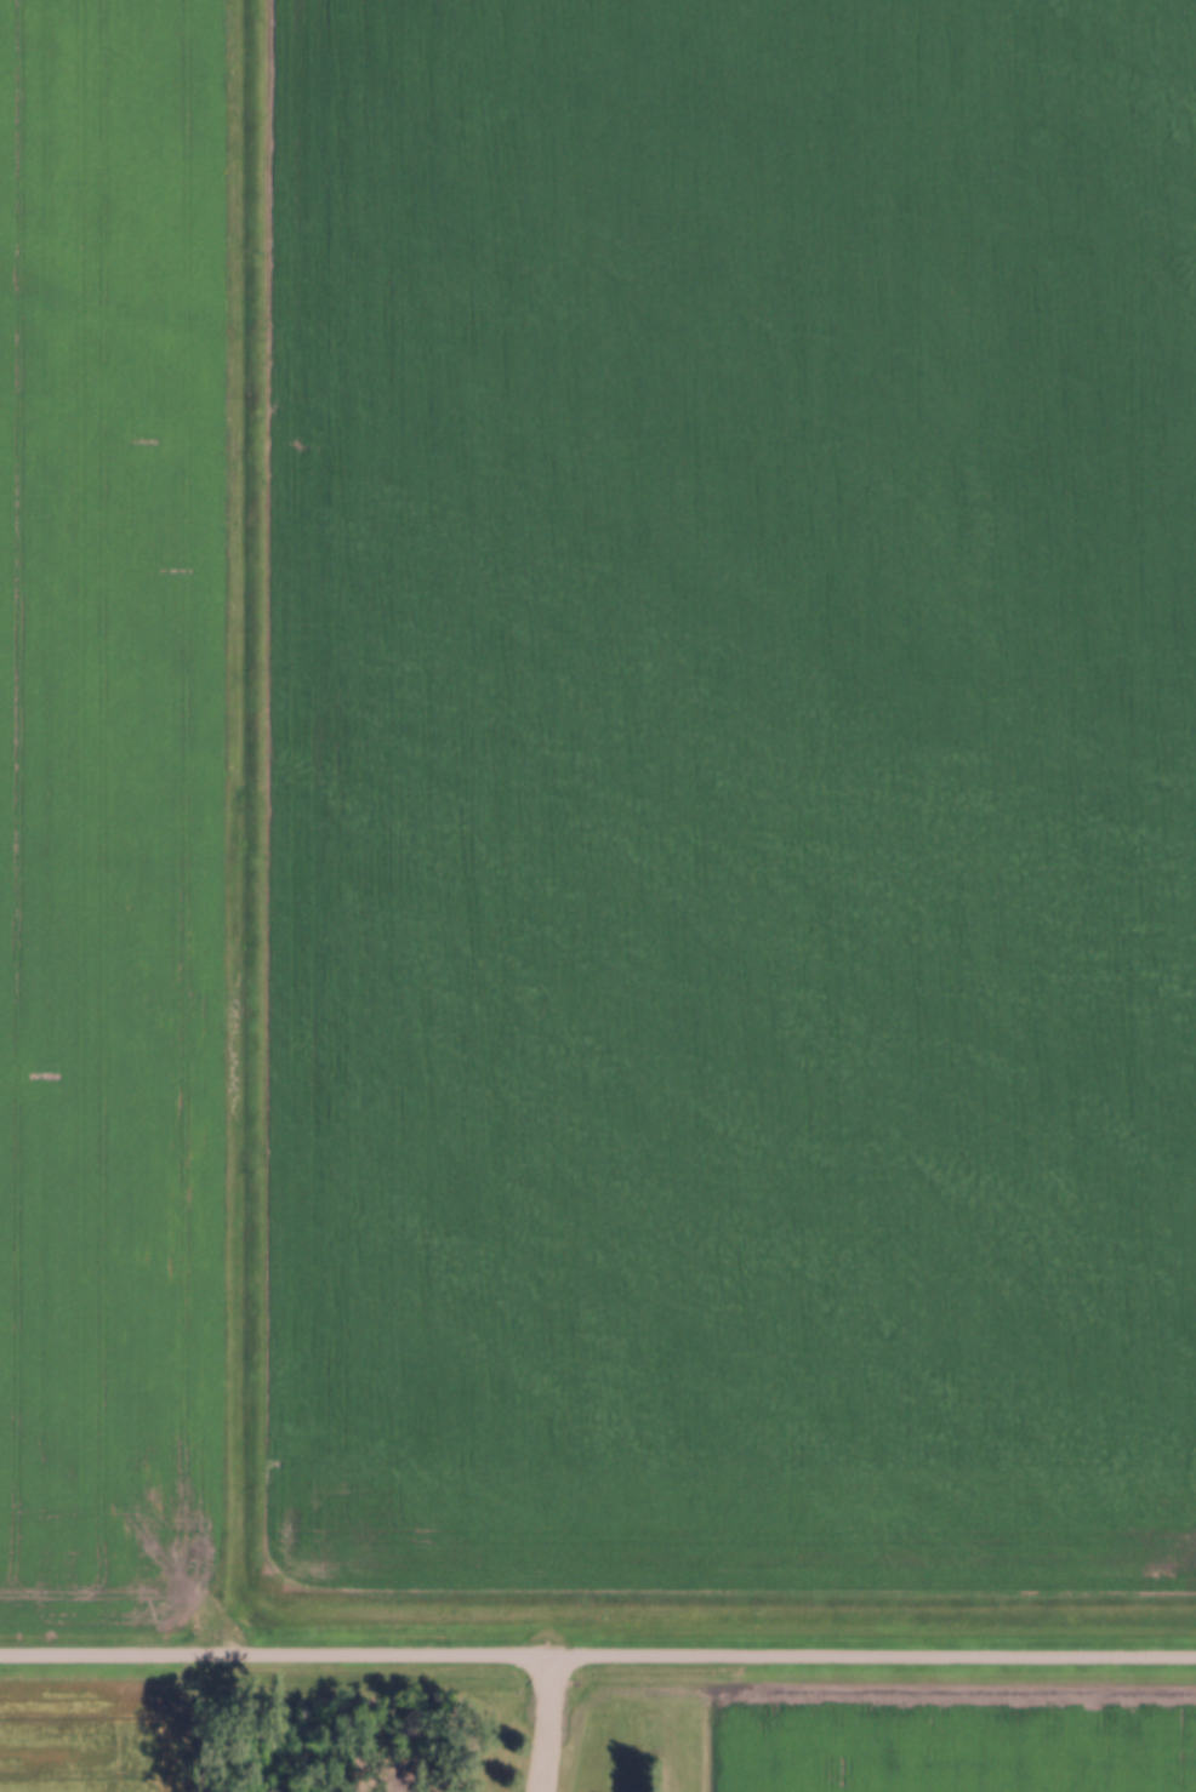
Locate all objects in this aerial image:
road: (598, 1655)
road: (543, 1724)
airport runway: (673, 1747)

